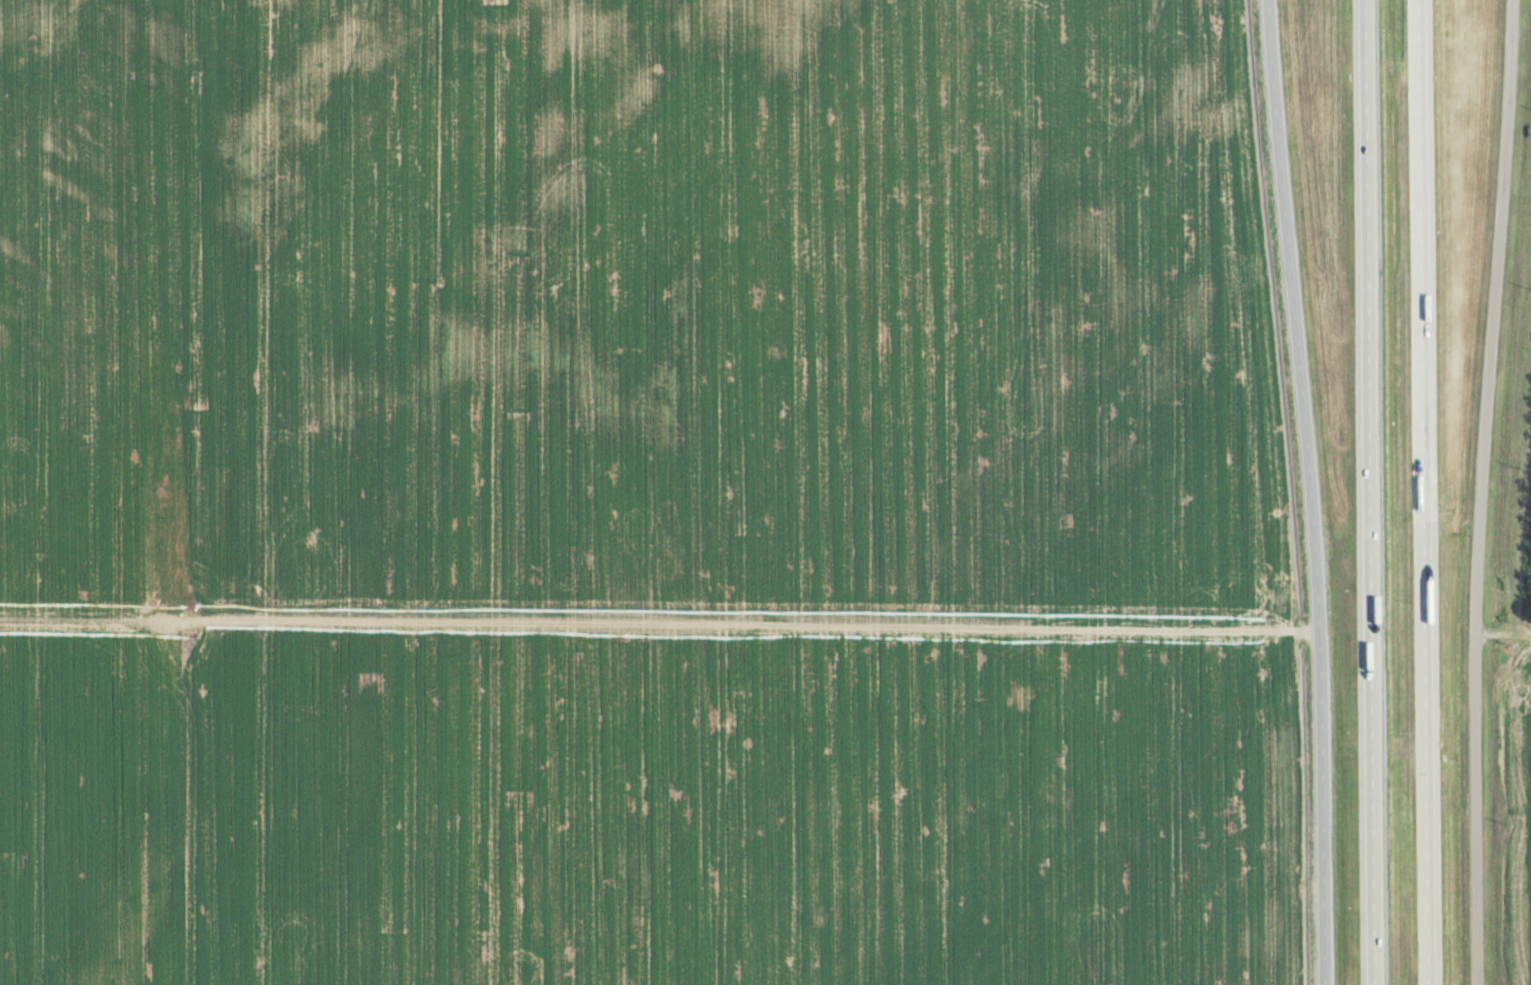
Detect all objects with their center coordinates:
road: (1310, 491)
road: (1484, 491)
road: (1370, 492)
road: (1425, 492)
road: (1011, 625)
road: (1402, 752)

